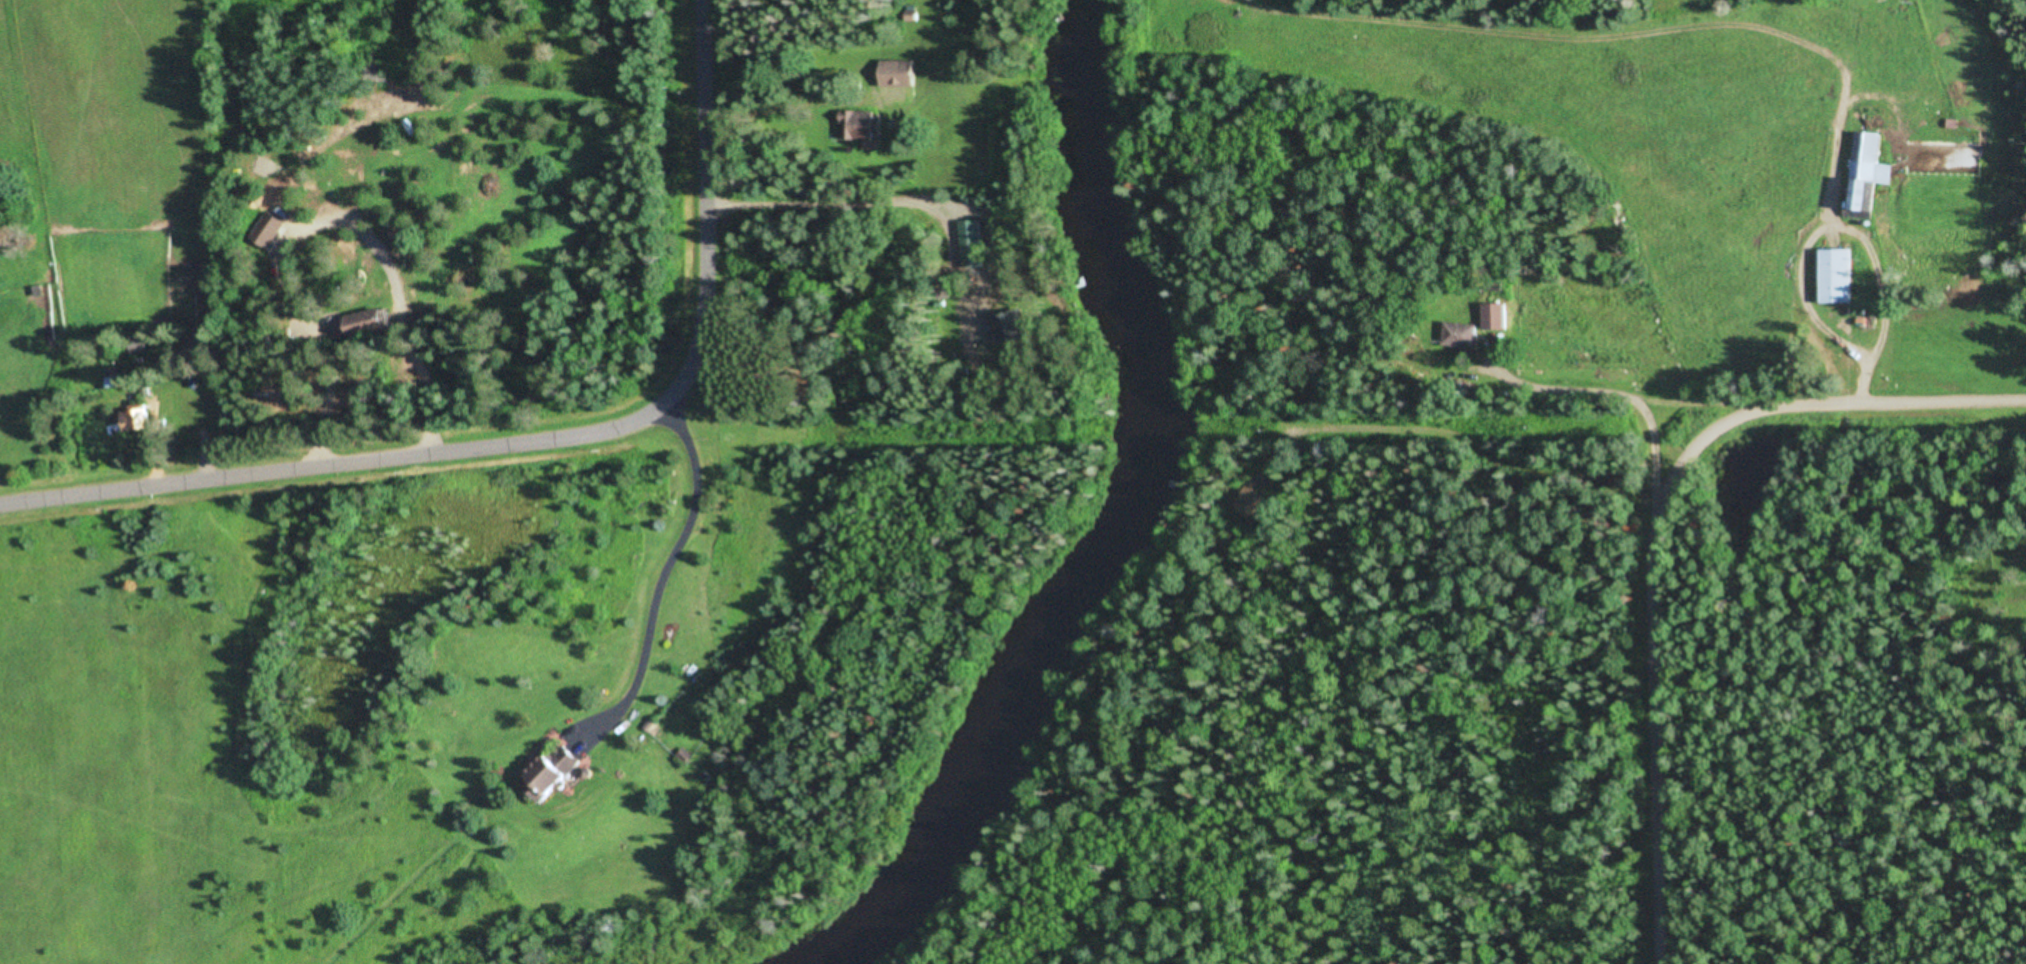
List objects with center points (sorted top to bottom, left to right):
building: (902, 74)
building: (862, 126)
building: (1944, 142)
building: (1868, 186)
building: (271, 230)
building: (972, 253)
building: (1840, 275)
building: (373, 323)
building: (1462, 335)
building: (135, 420)
road: (544, 441)
building: (1251, 501)
river: (1116, 516)
road: (1657, 533)
building: (554, 771)

